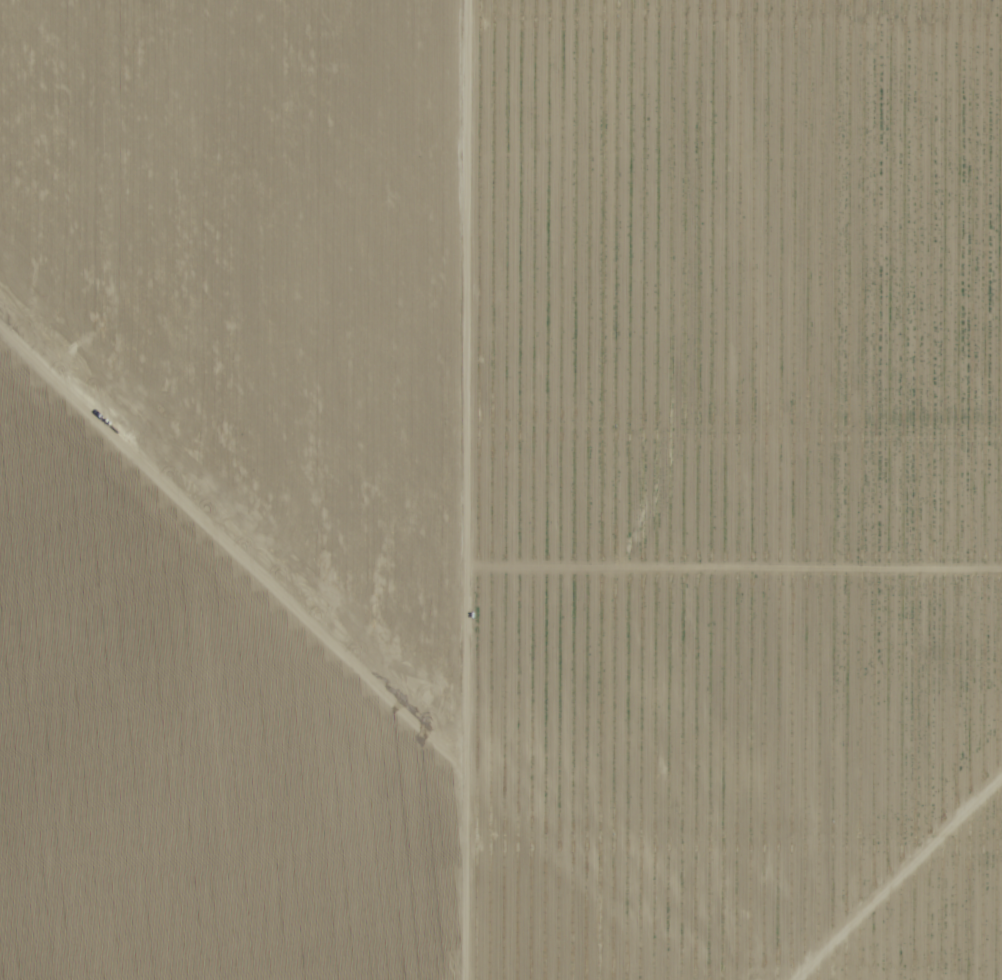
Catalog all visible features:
crop: (455, 402)

